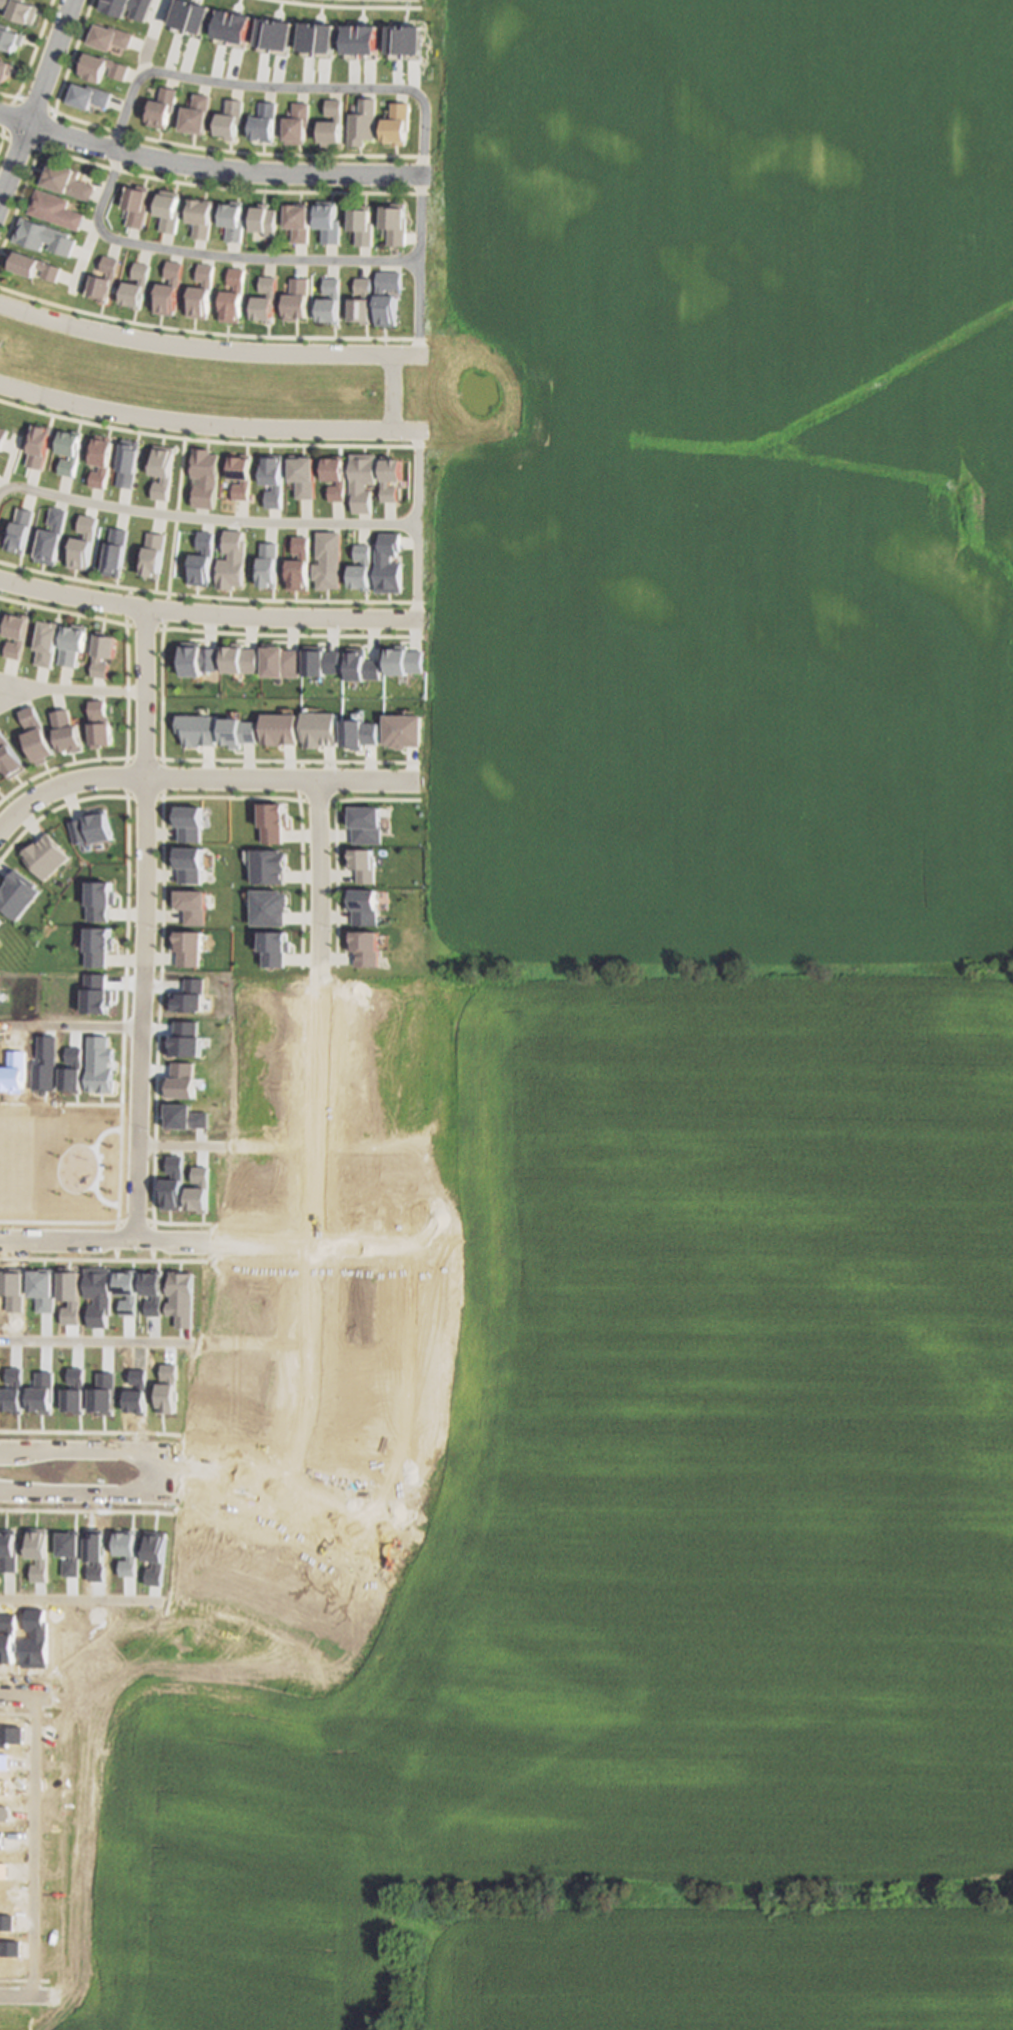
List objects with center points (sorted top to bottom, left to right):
road: (347, 5)
building: (128, 7)
building: (21, 9)
building: (316, 34)
building: (108, 35)
building: (273, 36)
building: (360, 36)
building: (404, 36)
building: (10, 37)
road: (32, 49)
road: (142, 55)
road: (70, 56)
building: (99, 66)
building: (6, 71)
road: (366, 91)
building: (87, 94)
road: (6, 97)
road: (34, 99)
road: (33, 105)
building: (161, 106)
building: (195, 113)
road: (4, 115)
building: (229, 117)
building: (263, 121)
building: (331, 121)
building: (362, 121)
building: (296, 122)
building: (396, 122)
road: (45, 133)
road: (3, 137)
road: (20, 146)
road: (238, 153)
road: (206, 166)
building: (65, 179)
road: (231, 190)
road: (19, 199)
building: (136, 204)
building: (55, 208)
building: (169, 209)
building: (201, 217)
building: (265, 219)
building: (233, 220)
building: (329, 220)
building: (299, 221)
building: (396, 222)
building: (363, 224)
building: (44, 235)
road: (216, 254)
road: (84, 257)
building: (35, 264)
building: (106, 278)
building: (138, 285)
building: (171, 289)
building: (204, 291)
building: (235, 296)
building: (390, 297)
building: (268, 298)
building: (300, 298)
building: (333, 300)
building: (364, 300)
road: (211, 336)
road: (193, 349)
road: (409, 357)
road: (392, 393)
road: (193, 424)
road: (406, 430)
building: (3, 436)
road: (207, 441)
building: (40, 445)
building: (71, 450)
building: (103, 460)
building: (130, 462)
building: (163, 469)
building: (303, 474)
building: (241, 475)
building: (205, 476)
building: (390, 476)
building: (335, 477)
building: (273, 478)
building: (362, 479)
road: (206, 519)
road: (174, 520)
road: (417, 524)
building: (22, 530)
building: (53, 536)
building: (85, 543)
building: (117, 552)
building: (154, 554)
building: (232, 559)
building: (327, 559)
building: (202, 560)
building: (388, 563)
building: (267, 564)
building: (298, 565)
building: (361, 567)
road: (83, 582)
road: (207, 615)
road: (208, 625)
building: (16, 634)
building: (46, 642)
building: (72, 643)
building: (102, 652)
building: (197, 658)
building: (239, 658)
building: (280, 660)
building: (321, 660)
building: (403, 660)
building: (361, 665)
road: (70, 689)
road: (14, 697)
building: (98, 723)
building: (280, 727)
building: (321, 728)
building: (196, 729)
building: (403, 729)
building: (65, 731)
building: (238, 731)
building: (361, 732)
building: (36, 735)
building: (9, 758)
road: (204, 759)
road: (151, 779)
road: (369, 781)
road: (159, 783)
road: (225, 796)
road: (374, 798)
building: (272, 820)
building: (186, 822)
building: (365, 823)
building: (89, 827)
building: (43, 855)
building: (185, 863)
building: (360, 864)
building: (266, 865)
road: (300, 879)
road: (334, 882)
building: (15, 893)
building: (97, 899)
building: (188, 905)
building: (265, 906)
building: (360, 906)
road: (142, 924)
crop: (759, 932)
building: (97, 945)
building: (185, 947)
building: (272, 947)
building: (361, 947)
road: (70, 1022)
road: (313, 1131)
road: (291, 1144)
park: (69, 1169)
road: (224, 1240)
building: (14, 1289)
building: (44, 1289)
building: (129, 1292)
building: (155, 1292)
building: (72, 1295)
building: (101, 1296)
building: (184, 1299)
road: (155, 1340)
building: (171, 1388)
building: (14, 1392)
building: (77, 1392)
building: (43, 1393)
building: (139, 1393)
building: (106, 1394)
road: (91, 1431)
road: (144, 1445)
road: (163, 1468)
road: (136, 1491)
road: (276, 1501)
road: (349, 1505)
road: (86, 1509)
road: (465, 1509)
road: (488, 1521)
road: (323, 1551)
road: (493, 1560)
road: (206, 1604)
road: (393, 1660)
road: (413, 1670)
road: (191, 1698)
road: (36, 1843)
road: (233, 1858)
road: (354, 1859)
road: (133, 1860)
road: (176, 1989)
road: (329, 2021)

